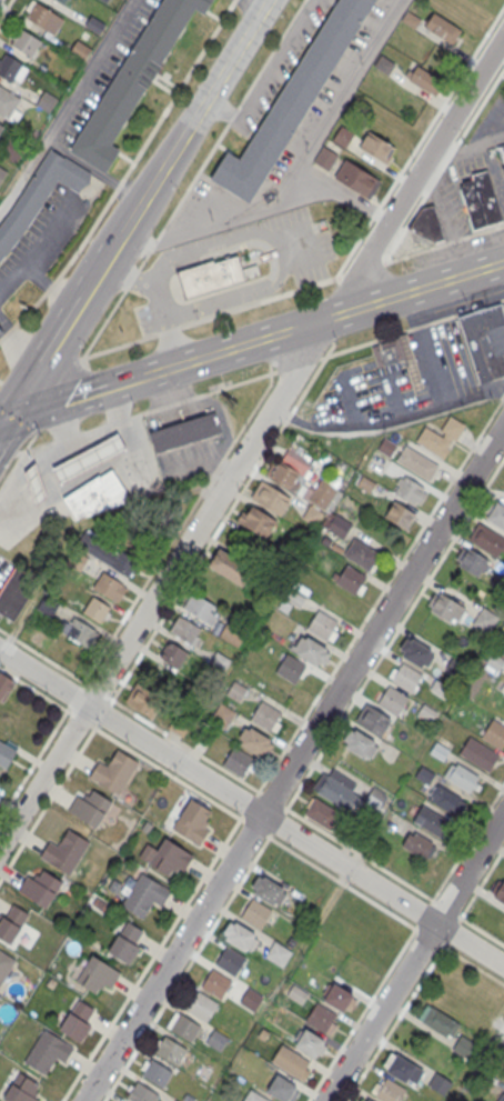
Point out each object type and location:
building: (105, 0)
building: (62, 1)
road: (255, 3)
road: (4, 8)
building: (43, 17)
building: (411, 18)
building: (442, 27)
building: (26, 41)
building: (384, 63)
road: (93, 66)
building: (11, 69)
building: (424, 79)
building: (133, 80)
road: (177, 89)
building: (47, 101)
building: (292, 101)
road: (335, 103)
road: (482, 103)
building: (9, 104)
road: (442, 104)
road: (230, 119)
building: (1, 126)
building: (343, 136)
road: (471, 146)
building: (12, 148)
building: (375, 148)
road: (453, 149)
building: (326, 158)
building: (503, 167)
road: (26, 170)
road: (93, 170)
building: (2, 173)
building: (356, 180)
road: (118, 186)
building: (38, 190)
road: (344, 194)
building: (487, 196)
building: (473, 203)
road: (135, 209)
road: (377, 210)
road: (415, 210)
road: (242, 218)
building: (427, 223)
road: (87, 234)
road: (137, 240)
road: (445, 243)
road: (152, 247)
road: (355, 247)
road: (39, 250)
road: (142, 261)
road: (362, 269)
building: (211, 274)
road: (131, 279)
road: (51, 283)
road: (51, 284)
road: (160, 297)
road: (361, 300)
road: (260, 301)
road: (30, 308)
road: (355, 308)
road: (103, 324)
road: (412, 328)
road: (168, 329)
building: (0, 331)
road: (8, 331)
road: (424, 331)
road: (19, 340)
building: (485, 341)
road: (118, 346)
road: (270, 349)
road: (179, 363)
road: (39, 369)
road: (225, 387)
road: (61, 396)
road: (78, 396)
road: (2, 419)
traffic signals: (6, 419)
road: (119, 420)
road: (2, 423)
road: (382, 424)
road: (93, 428)
building: (184, 430)
building: (444, 434)
road: (67, 437)
road: (253, 443)
building: (386, 446)
road: (33, 447)
road: (8, 456)
road: (19, 459)
building: (89, 461)
building: (416, 462)
building: (289, 469)
building: (366, 483)
building: (36, 487)
building: (411, 492)
building: (322, 494)
building: (271, 497)
building: (97, 498)
building: (304, 509)
building: (495, 513)
building: (400, 514)
road: (223, 520)
building: (260, 521)
road: (180, 524)
building: (339, 526)
building: (486, 539)
building: (361, 553)
building: (109, 555)
building: (472, 560)
building: (230, 565)
parking lot: (4, 568)
building: (350, 578)
building: (109, 584)
building: (17, 591)
road: (380, 594)
building: (48, 603)
building: (198, 605)
building: (445, 607)
building: (94, 609)
building: (485, 620)
road: (19, 622)
building: (322, 624)
building: (185, 629)
building: (78, 631)
building: (233, 631)
road: (393, 634)
building: (309, 649)
building: (416, 651)
building: (173, 653)
road: (42, 655)
building: (495, 660)
building: (455, 665)
building: (290, 668)
building: (405, 677)
building: (4, 685)
building: (441, 689)
road: (34, 690)
road: (97, 691)
road: (74, 694)
building: (143, 699)
building: (391, 699)
building: (427, 711)
road: (102, 713)
building: (221, 713)
building: (266, 715)
road: (80, 718)
building: (373, 720)
building: (495, 732)
building: (204, 739)
building: (255, 741)
road: (184, 744)
building: (361, 744)
building: (440, 748)
building: (6, 753)
building: (478, 753)
road: (33, 760)
building: (239, 761)
road: (293, 763)
building: (113, 771)
road: (167, 772)
building: (425, 774)
building: (461, 775)
building: (335, 788)
building: (374, 798)
road: (272, 799)
building: (447, 799)
road: (48, 801)
road: (250, 802)
building: (90, 805)
road: (251, 809)
building: (323, 812)
building: (193, 821)
road: (278, 822)
building: (435, 822)
road: (254, 828)
road: (466, 843)
building: (417, 844)
building: (65, 850)
road: (360, 853)
building: (167, 855)
road: (342, 882)
road: (481, 883)
building: (40, 887)
building: (269, 890)
building: (498, 890)
building: (144, 894)
road: (446, 909)
building: (256, 912)
road: (423, 914)
building: (11, 923)
building: (336, 924)
road: (451, 930)
road: (481, 931)
road: (429, 935)
building: (242, 938)
building: (125, 940)
building: (366, 951)
building: (278, 953)
road: (152, 957)
road: (414, 957)
building: (231, 960)
road: (472, 962)
building: (4, 964)
road: (187, 967)
building: (97, 974)
building: (300, 994)
building: (337, 995)
building: (198, 1003)
road: (362, 1012)
building: (322, 1018)
building: (77, 1020)
road: (395, 1020)
building: (439, 1020)
building: (185, 1027)
building: (263, 1033)
building: (216, 1039)
building: (310, 1042)
building: (463, 1044)
building: (169, 1049)
building: (48, 1051)
building: (291, 1061)
building: (403, 1067)
building: (157, 1073)
building: (440, 1082)
building: (22, 1089)
building: (283, 1089)
building: (390, 1091)
building: (141, 1093)
building: (253, 1097)
building: (501, 1097)
building: (188, 1098)
building: (175, 1100)
building: (367, 1100)

